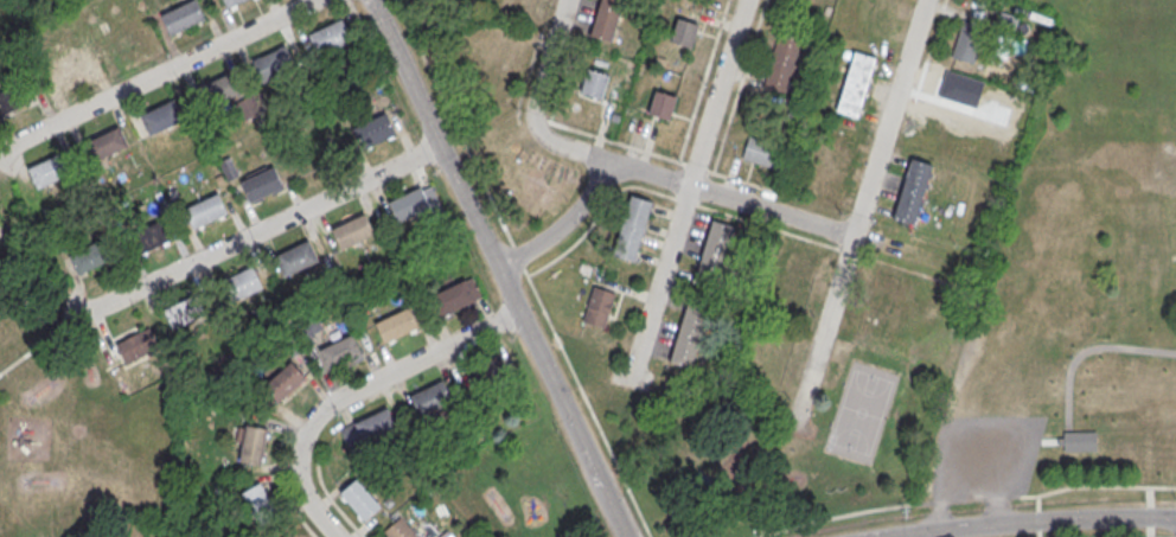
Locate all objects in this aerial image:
building: (232, 2)
building: (523, 7)
building: (184, 17)
building: (608, 20)
building: (683, 31)
building: (331, 37)
building: (124, 43)
building: (784, 62)
road: (547, 63)
building: (274, 64)
building: (71, 71)
road: (156, 75)
building: (855, 83)
building: (596, 84)
building: (218, 91)
building: (15, 97)
building: (661, 103)
building: (161, 117)
building: (375, 132)
building: (107, 145)
building: (761, 152)
building: (831, 165)
building: (50, 172)
building: (263, 184)
road: (686, 188)
building: (912, 190)
building: (410, 204)
road: (746, 204)
building: (206, 211)
road: (858, 213)
road: (562, 225)
building: (632, 228)
road: (255, 231)
building: (353, 231)
building: (151, 238)
building: (714, 247)
building: (90, 257)
building: (298, 258)
building: (1060, 258)
road: (496, 268)
road: (523, 268)
building: (241, 286)
building: (453, 298)
building: (877, 302)
building: (599, 306)
building: (185, 312)
building: (397, 326)
building: (1119, 331)
building: (688, 334)
road: (37, 346)
building: (138, 346)
building: (340, 353)
building: (487, 372)
building: (287, 378)
road: (353, 391)
building: (433, 399)
building: (376, 426)
park: (78, 430)
building: (250, 443)
park: (772, 448)
building: (702, 482)
road: (963, 498)
building: (360, 500)
building: (257, 501)
road: (1034, 523)
building: (398, 530)
road: (913, 535)
building: (286, 536)
road: (1107, 536)

